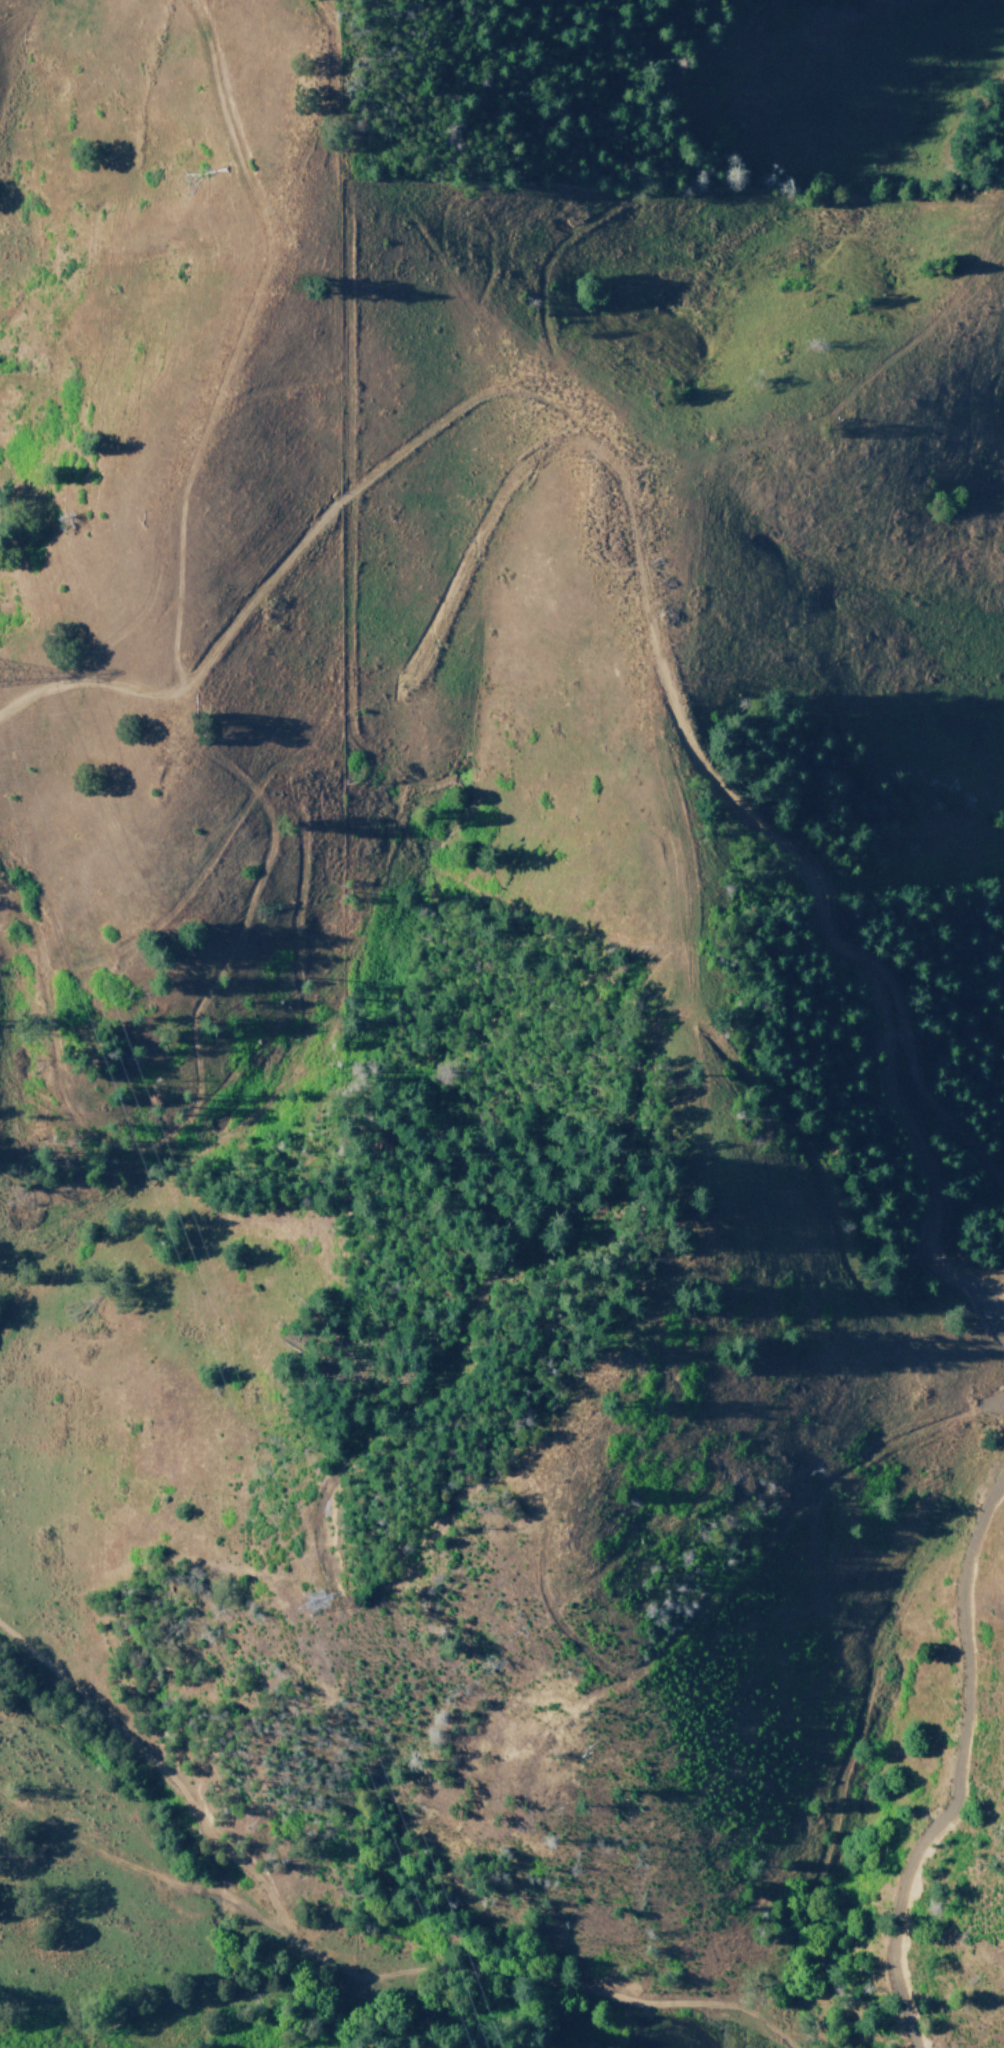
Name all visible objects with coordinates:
road: (645, 924)
power tower: (327, 1601)
road: (977, 1741)
road: (925, 2026)

